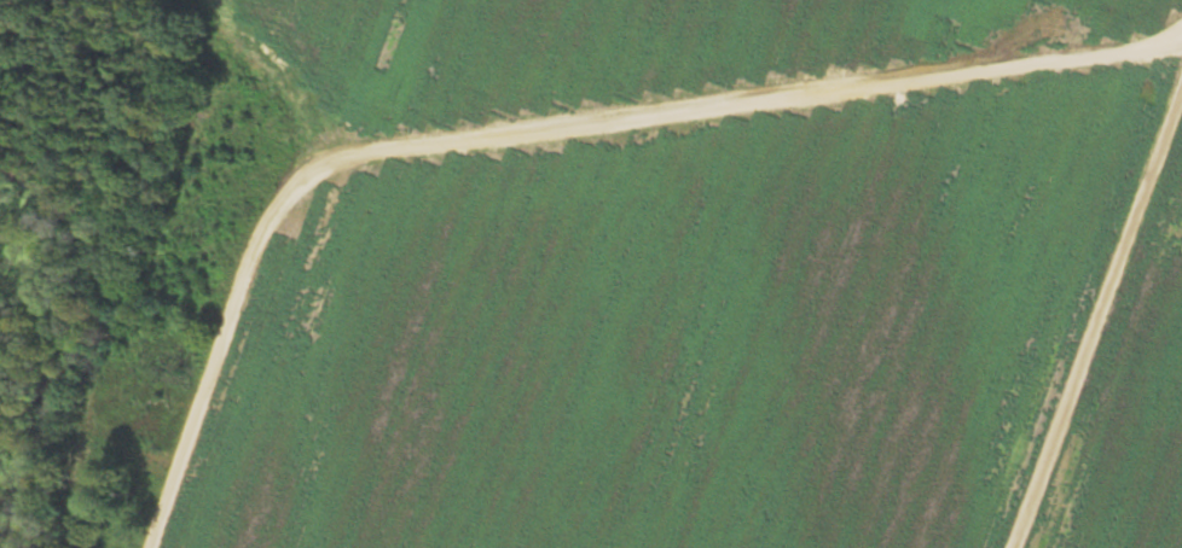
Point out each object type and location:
road: (574, 163)

